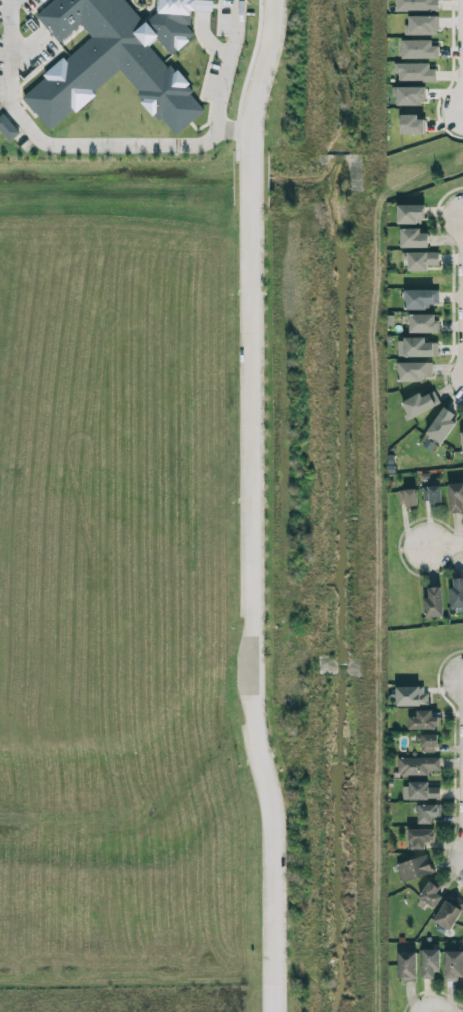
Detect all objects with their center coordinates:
building: (415, 5)
building: (421, 25)
building: (418, 49)
building: (117, 56)
building: (415, 72)
road: (243, 79)
building: (408, 95)
building: (411, 124)
building: (7, 127)
road: (230, 128)
road: (118, 143)
building: (409, 213)
building: (412, 238)
building: (419, 260)
building: (419, 298)
building: (423, 323)
building: (418, 347)
building: (413, 371)
building: (419, 403)
building: (439, 426)
building: (461, 442)
building: (430, 493)
building: (406, 497)
building: (455, 497)
road: (247, 505)
road: (446, 544)
building: (456, 593)
building: (432, 602)
building: (410, 695)
building: (423, 720)
building: (426, 742)
building: (416, 765)
building: (419, 791)
building: (427, 813)
building: (419, 837)
building: (413, 868)
building: (429, 895)
building: (448, 911)
building: (428, 963)
building: (406, 965)
building: (452, 965)

